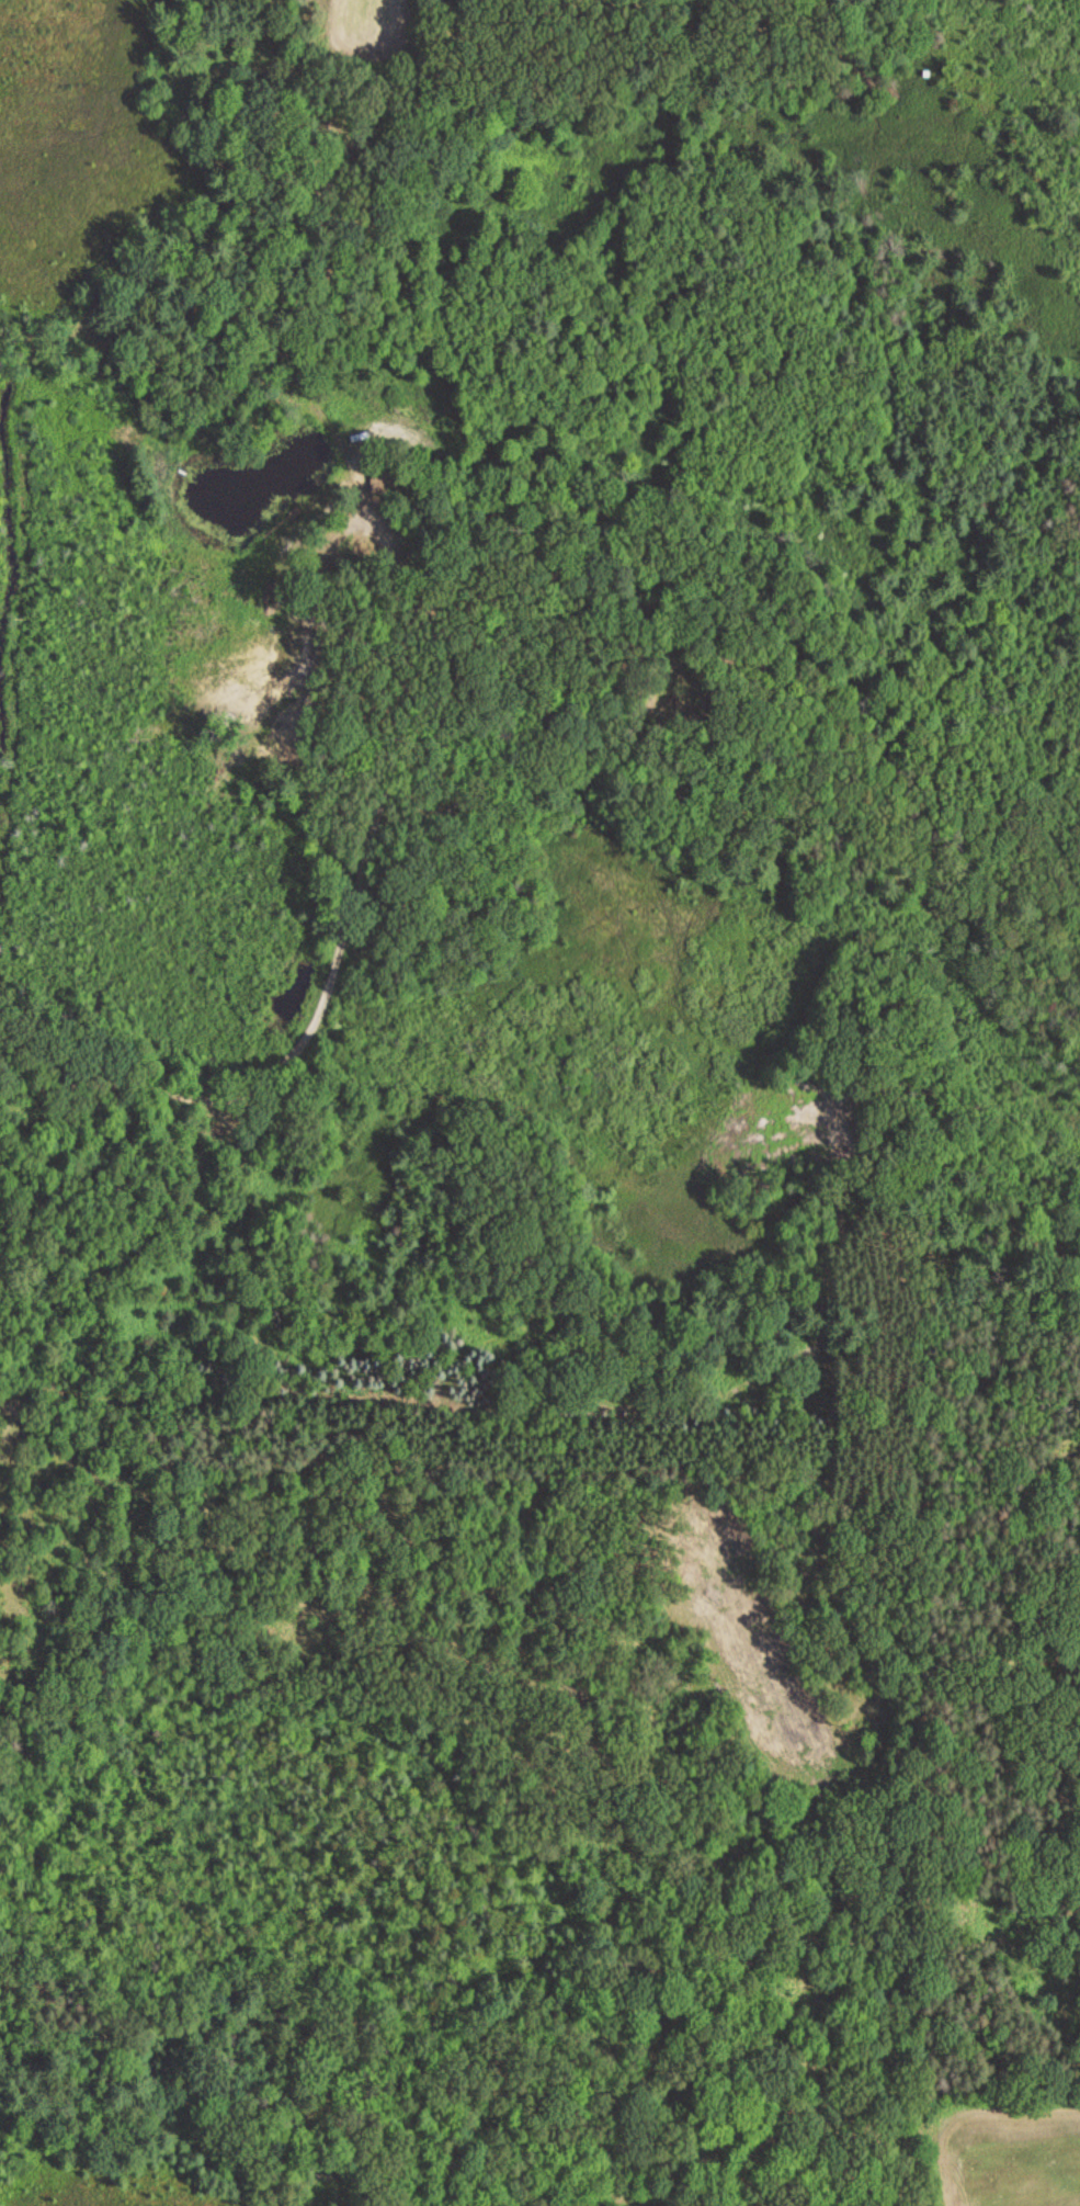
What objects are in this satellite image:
building: (380, 482)

